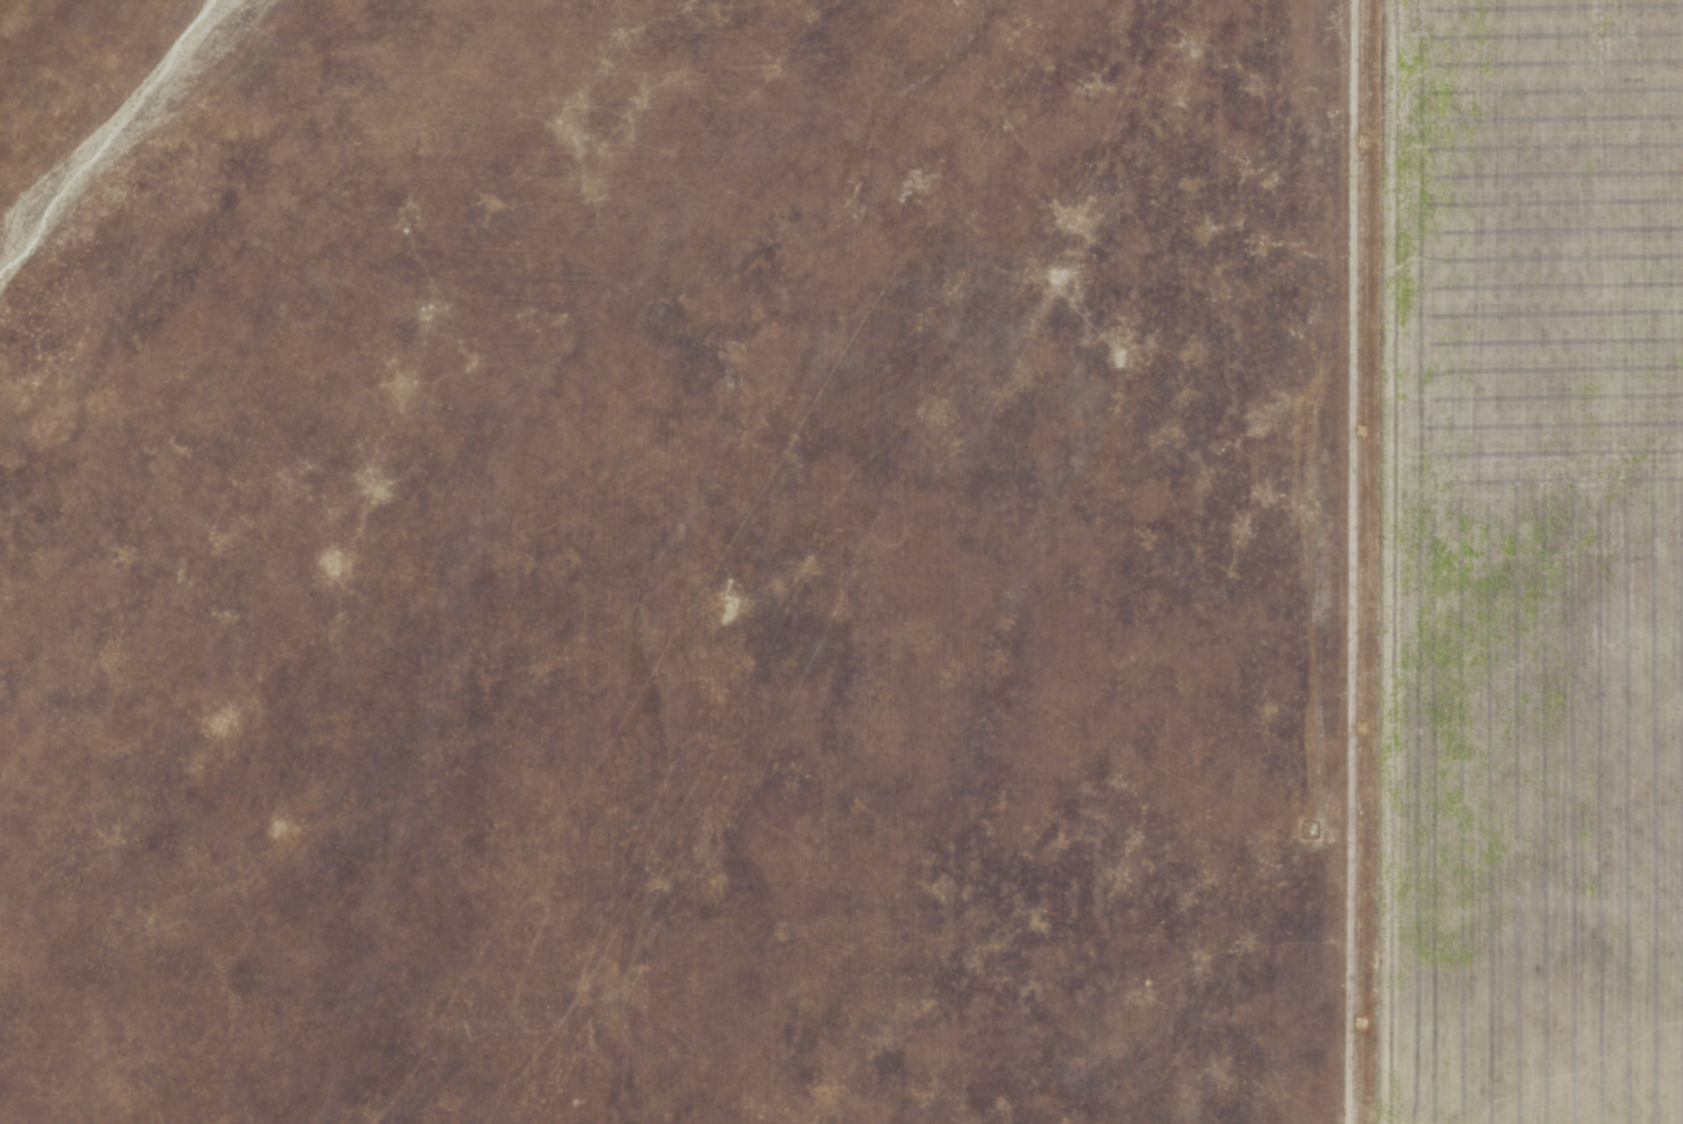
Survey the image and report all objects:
road: (1352, 561)

